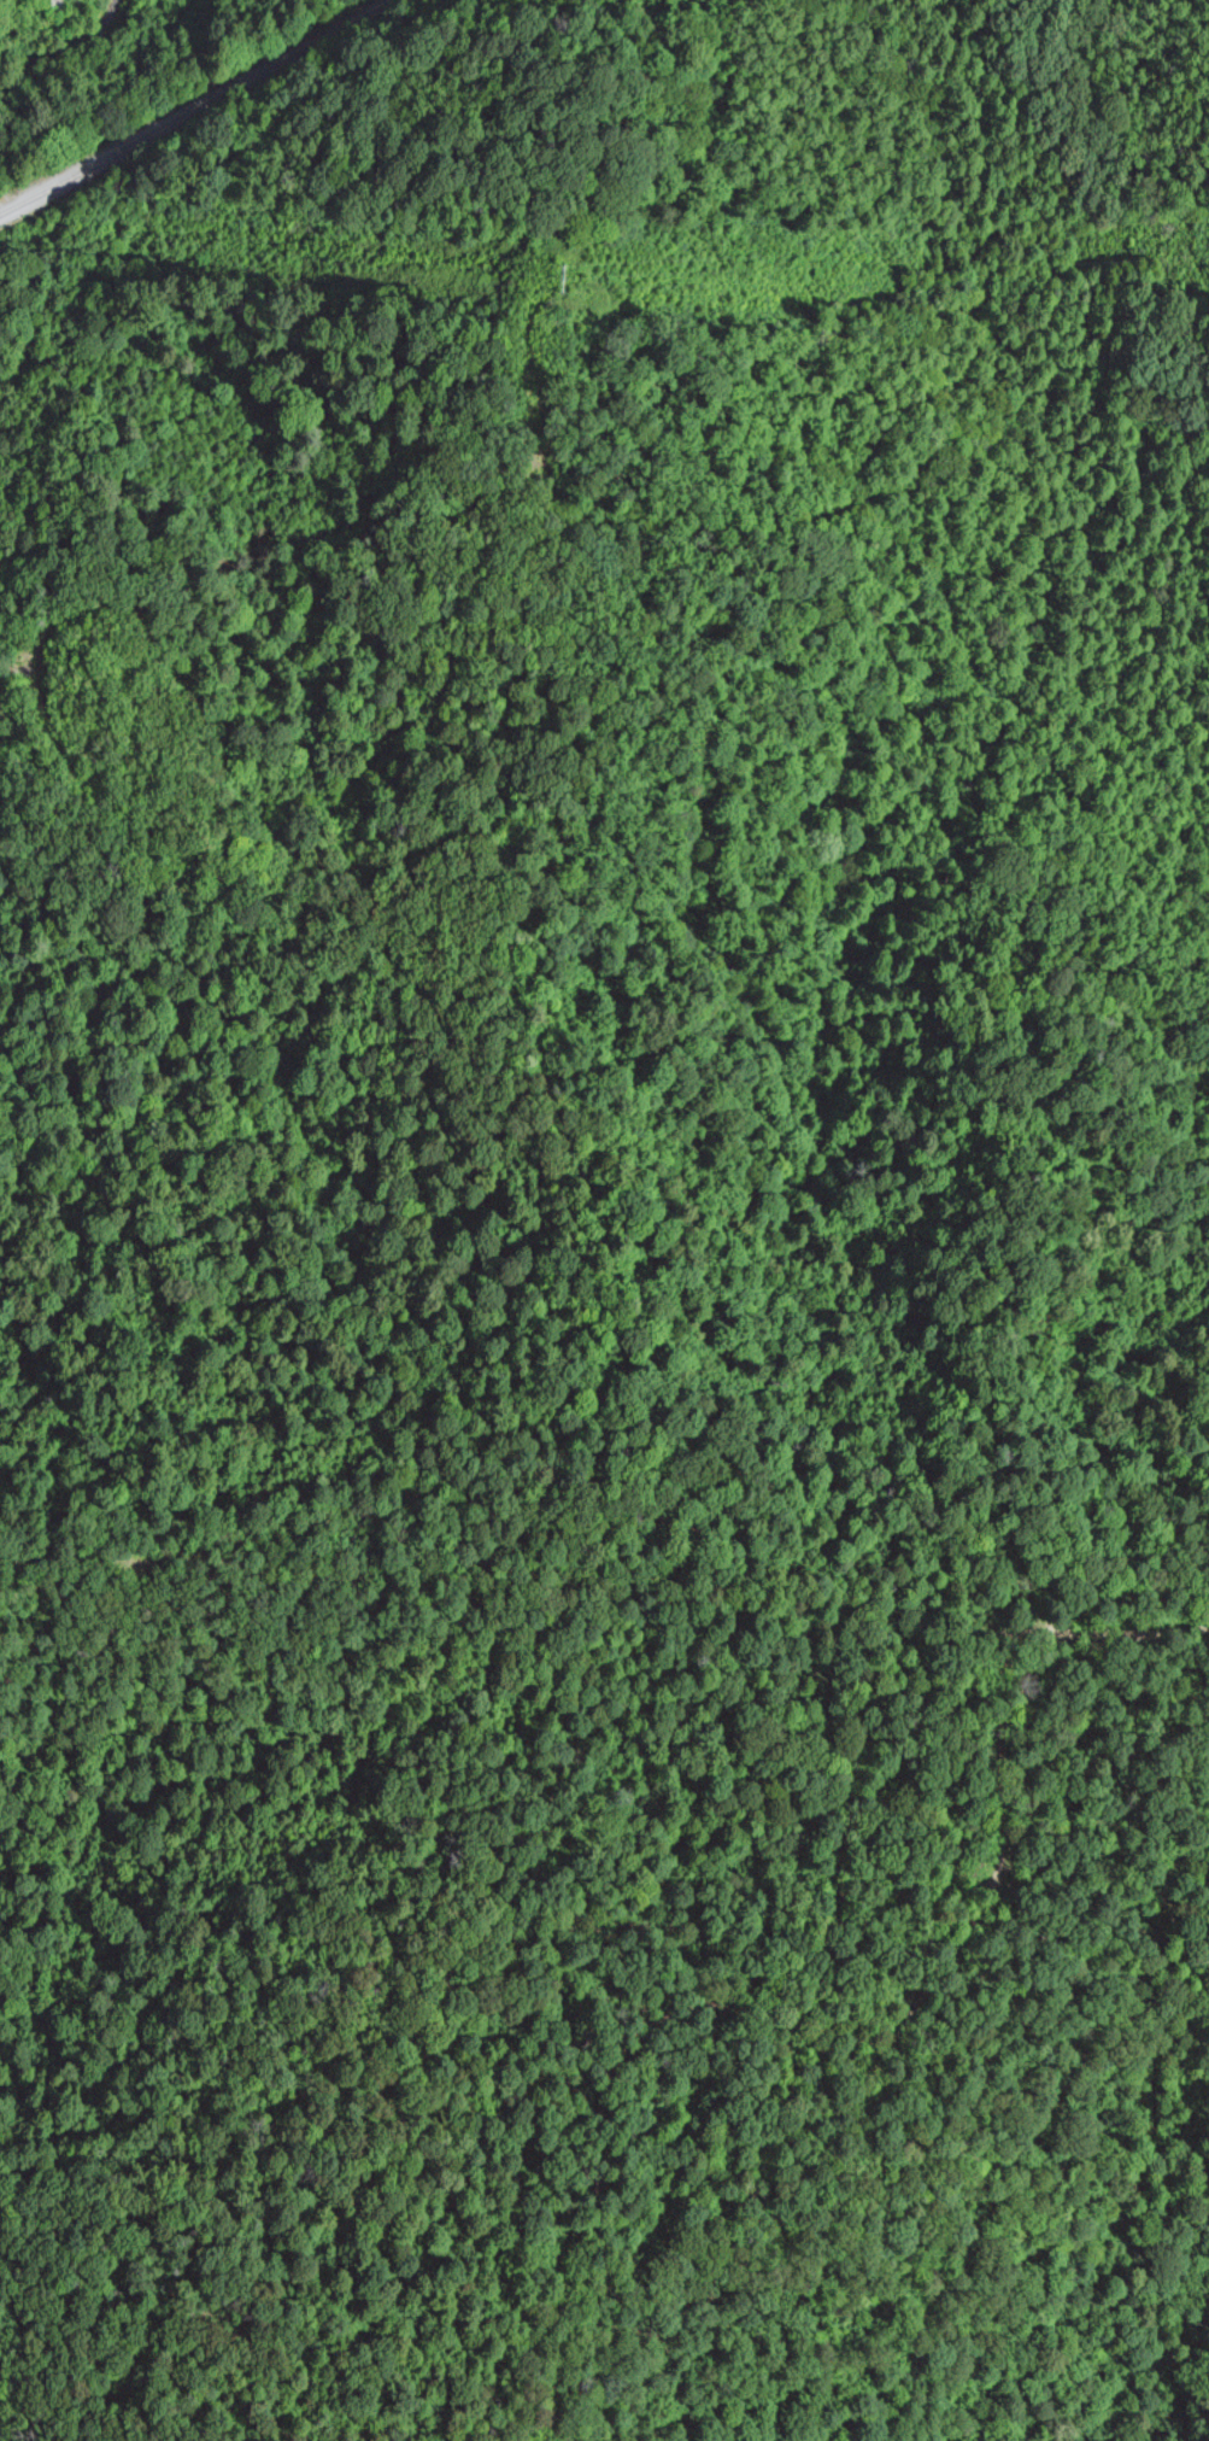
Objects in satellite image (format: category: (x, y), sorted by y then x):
railway: (205, 105)

